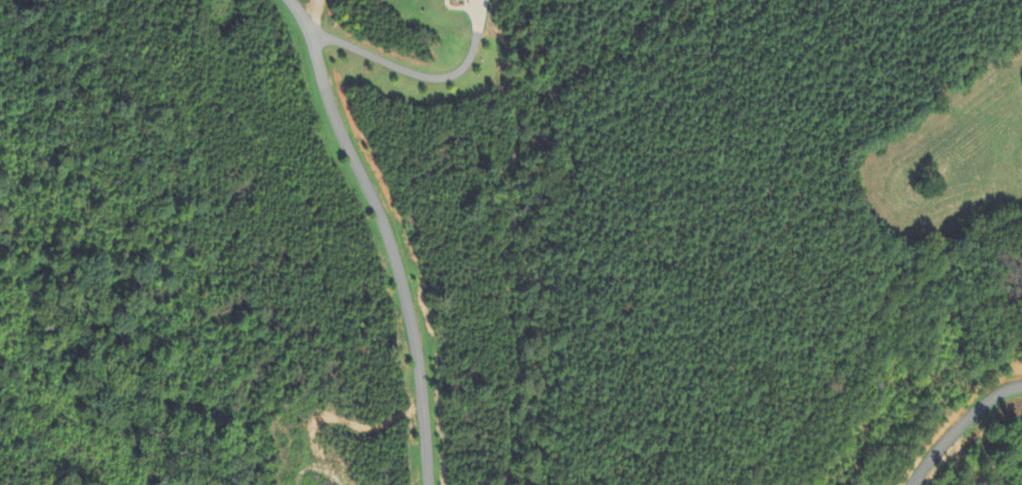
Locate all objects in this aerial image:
building: (473, 13)
road: (420, 68)
road: (391, 234)
road: (964, 431)

